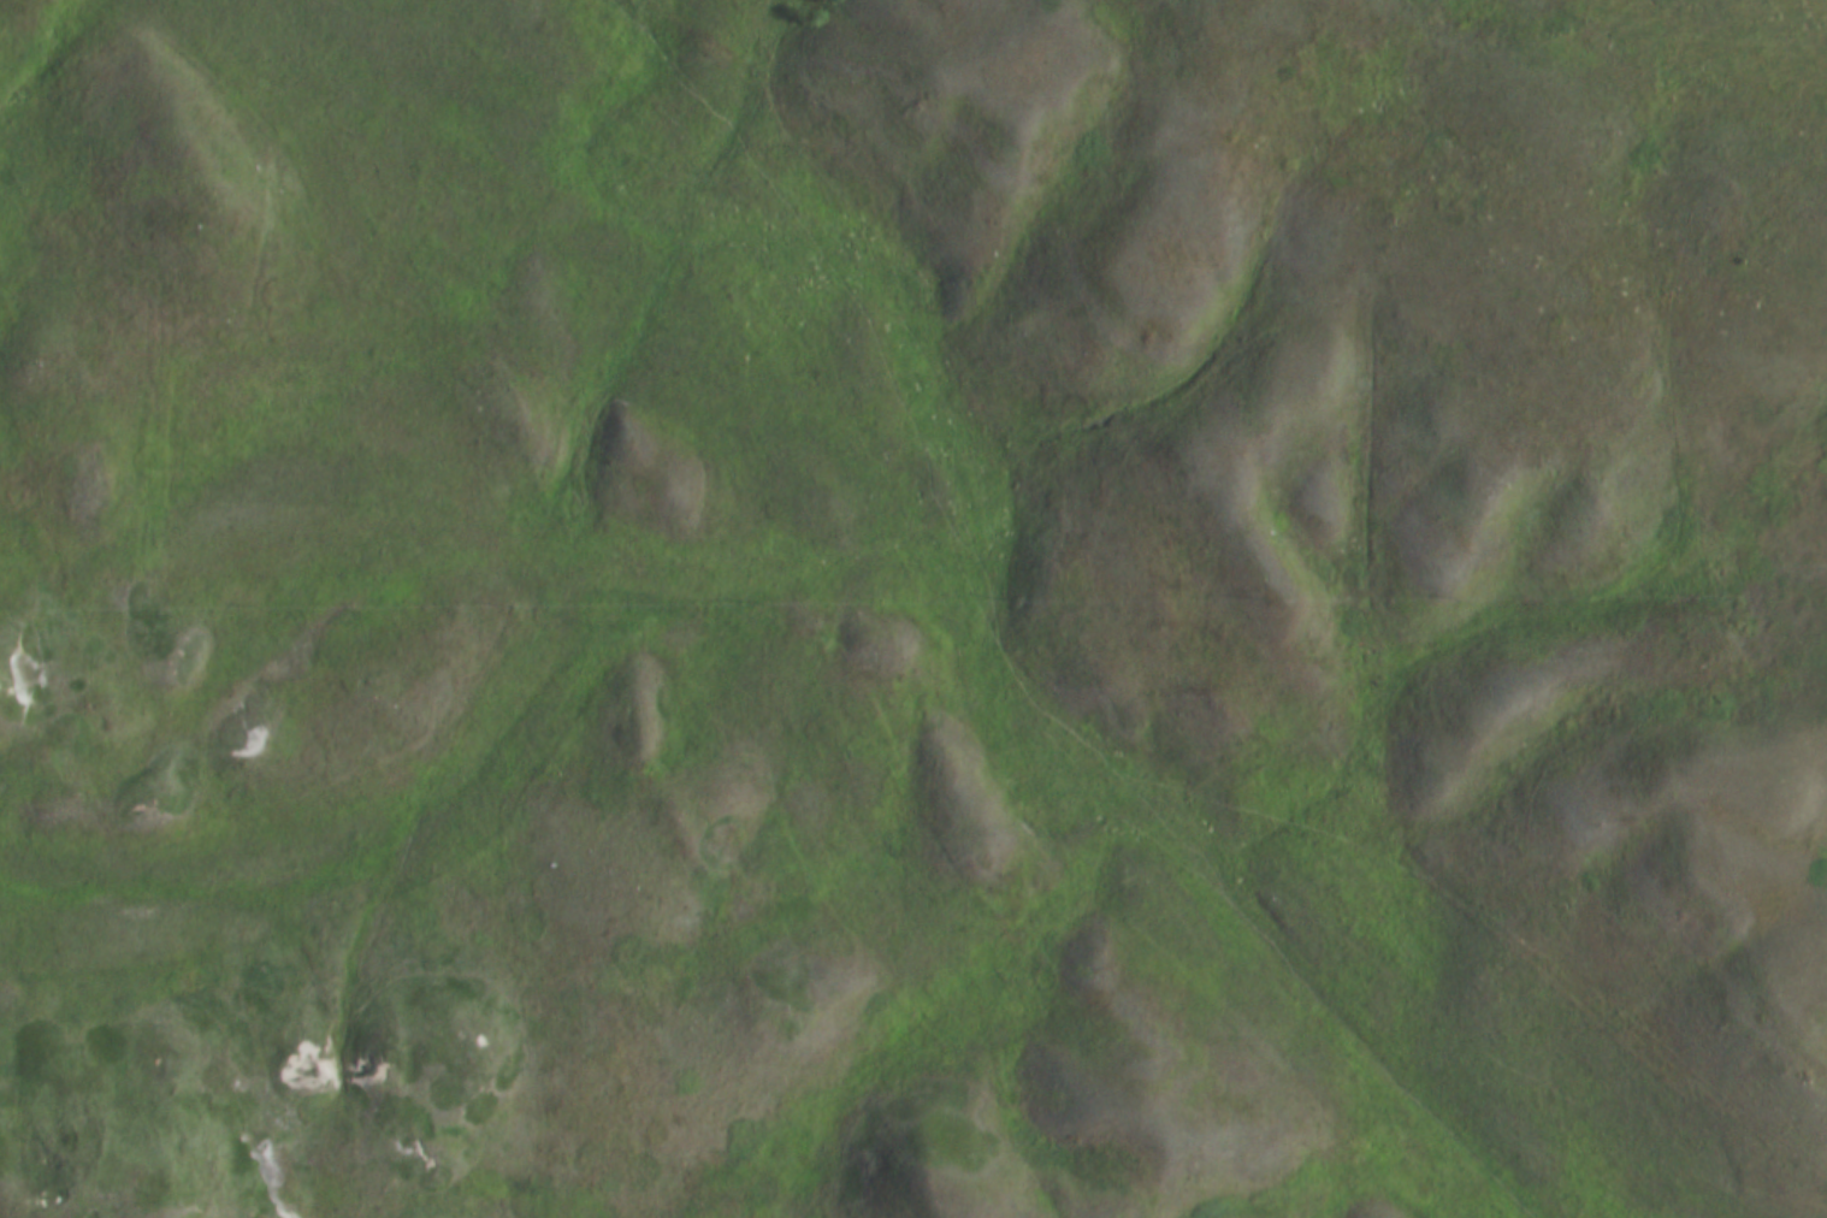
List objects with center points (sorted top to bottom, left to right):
road: (1707, 35)

